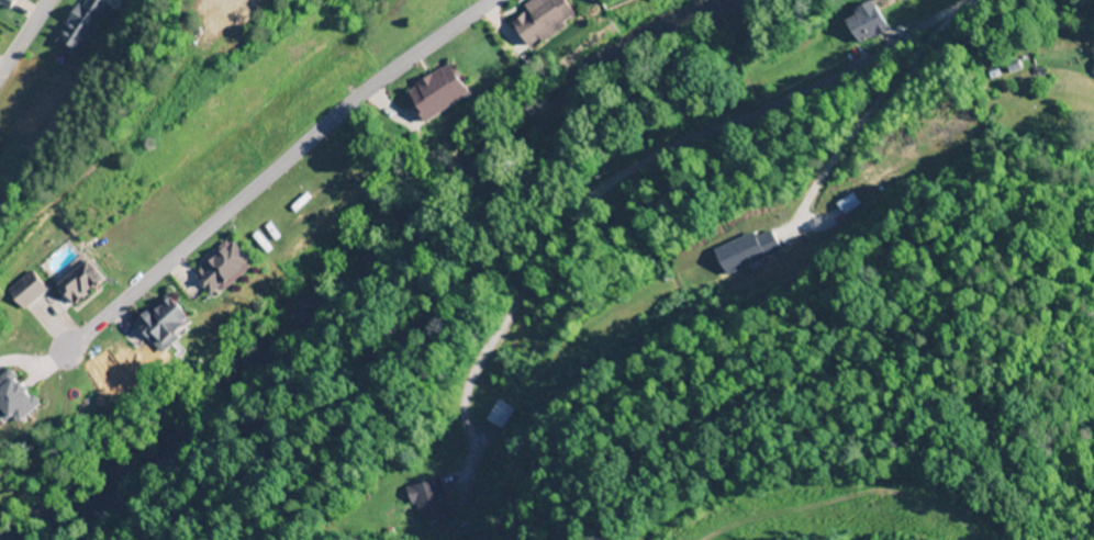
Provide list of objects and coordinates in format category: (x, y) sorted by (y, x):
building: (14, 2)
building: (537, 20)
building: (78, 25)
building: (862, 25)
road: (25, 40)
building: (1092, 75)
building: (433, 93)
road: (789, 95)
road: (258, 213)
river: (357, 259)
building: (221, 269)
building: (76, 282)
building: (23, 291)
building: (161, 323)
building: (495, 415)
building: (427, 500)

